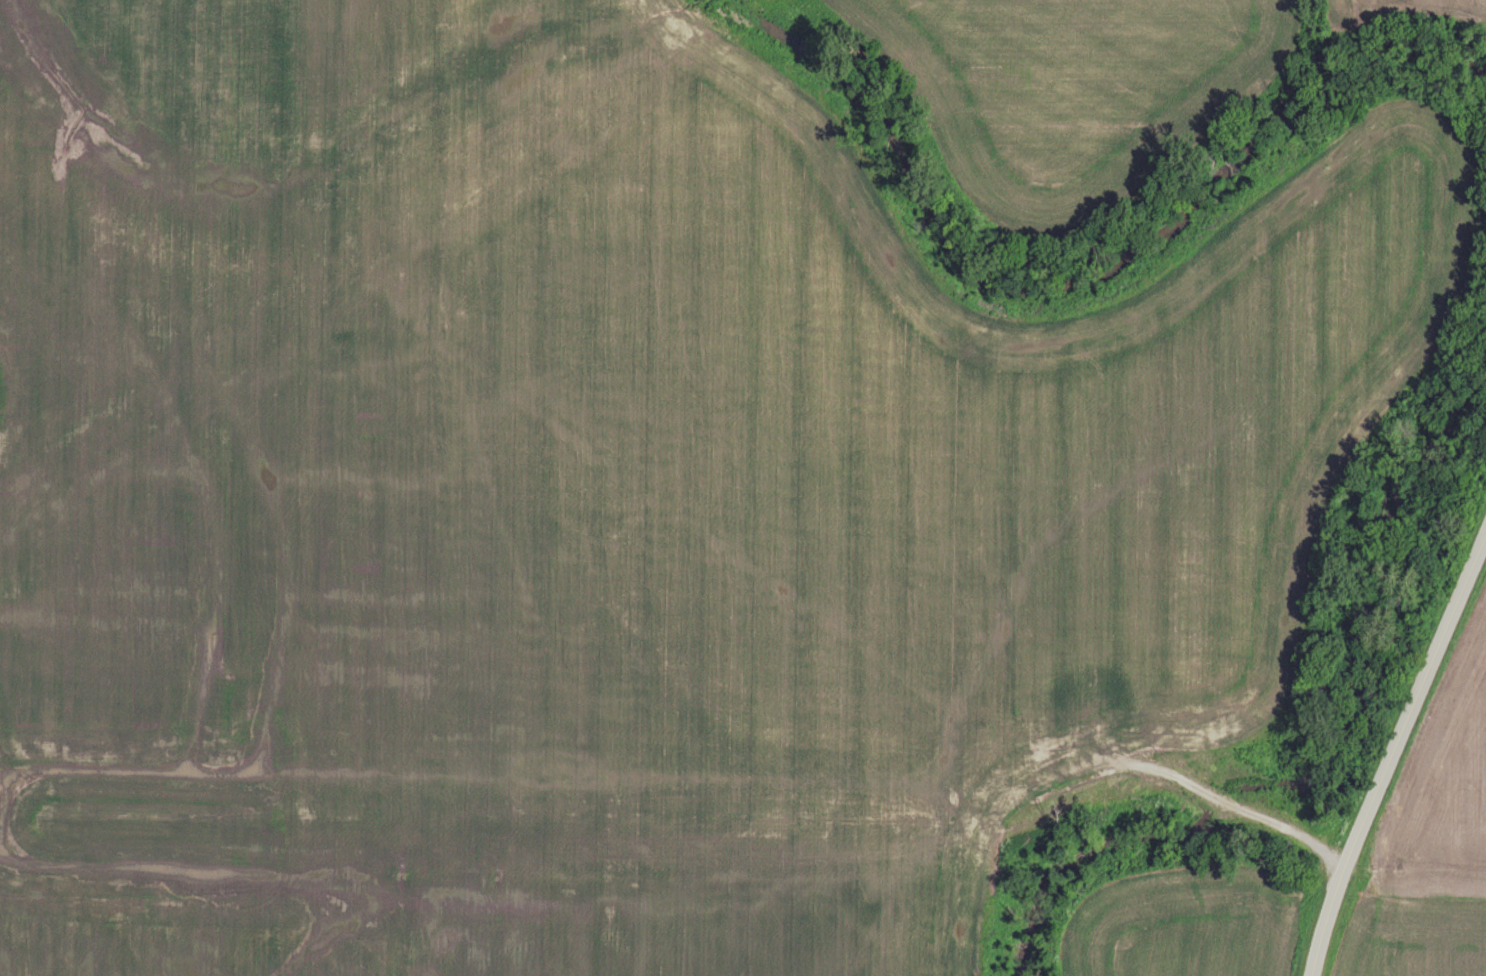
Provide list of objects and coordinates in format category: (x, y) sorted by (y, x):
road: (1412, 716)
road: (1325, 932)

